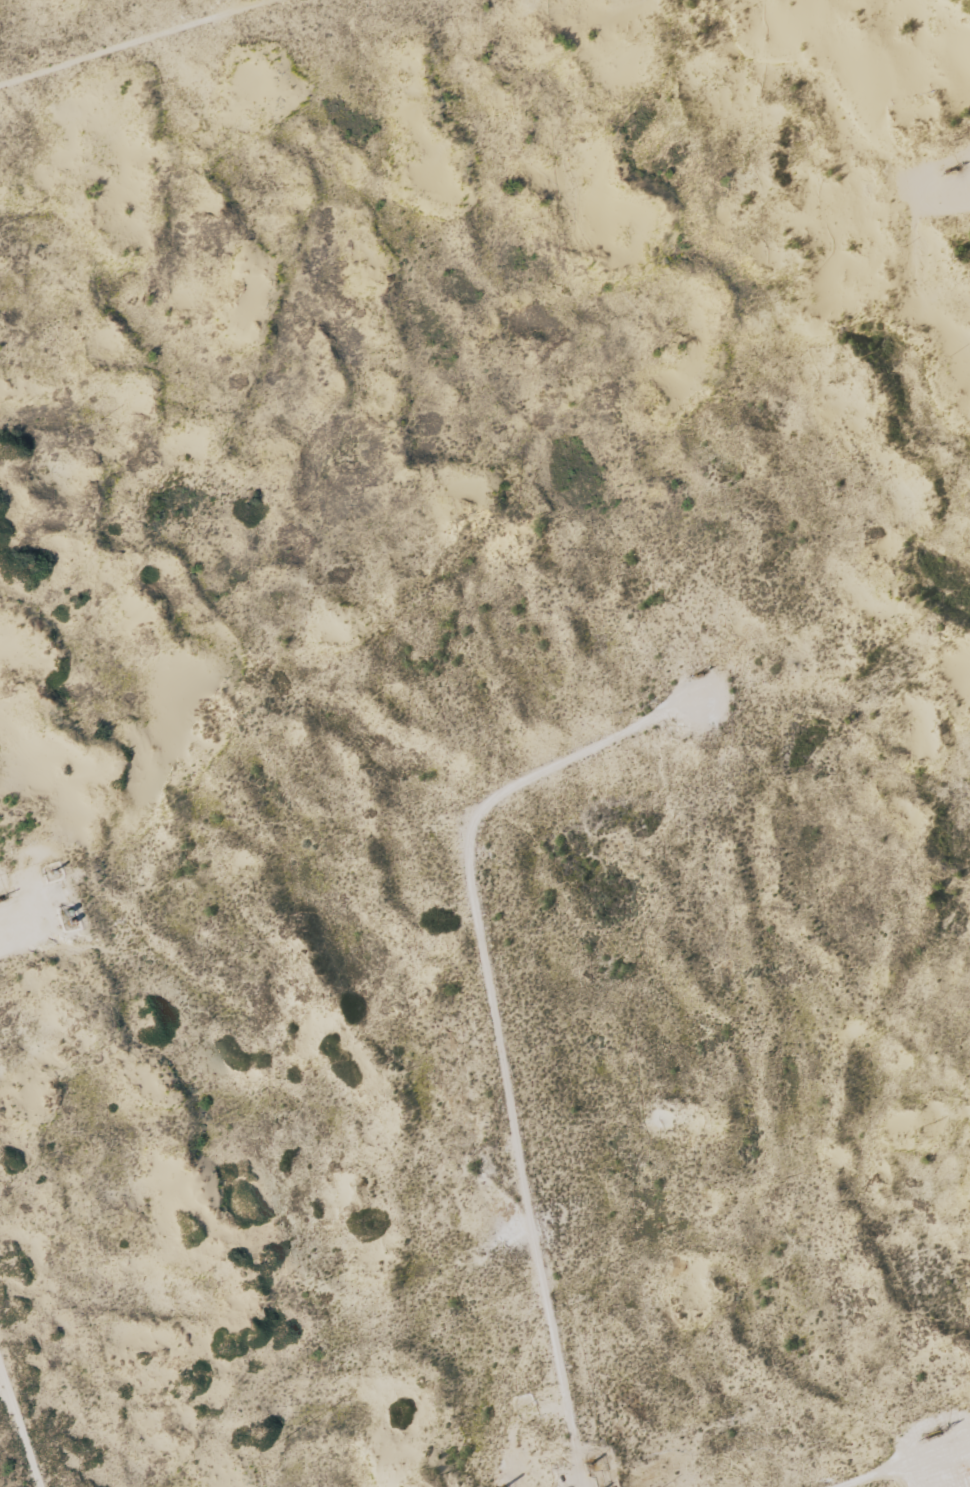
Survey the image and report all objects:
road: (522, 1070)
road: (13, 1438)
road: (876, 1478)

